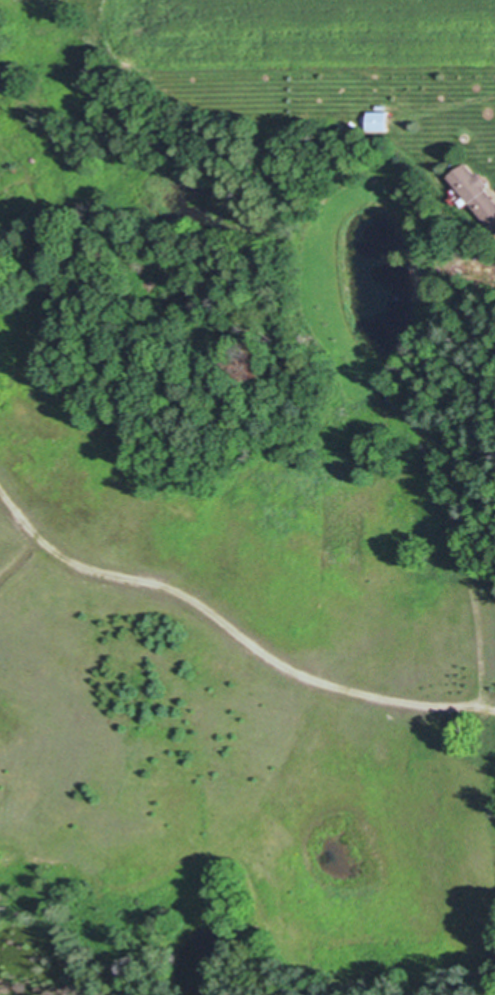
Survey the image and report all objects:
building: (376, 121)
building: (475, 195)
road: (490, 707)

